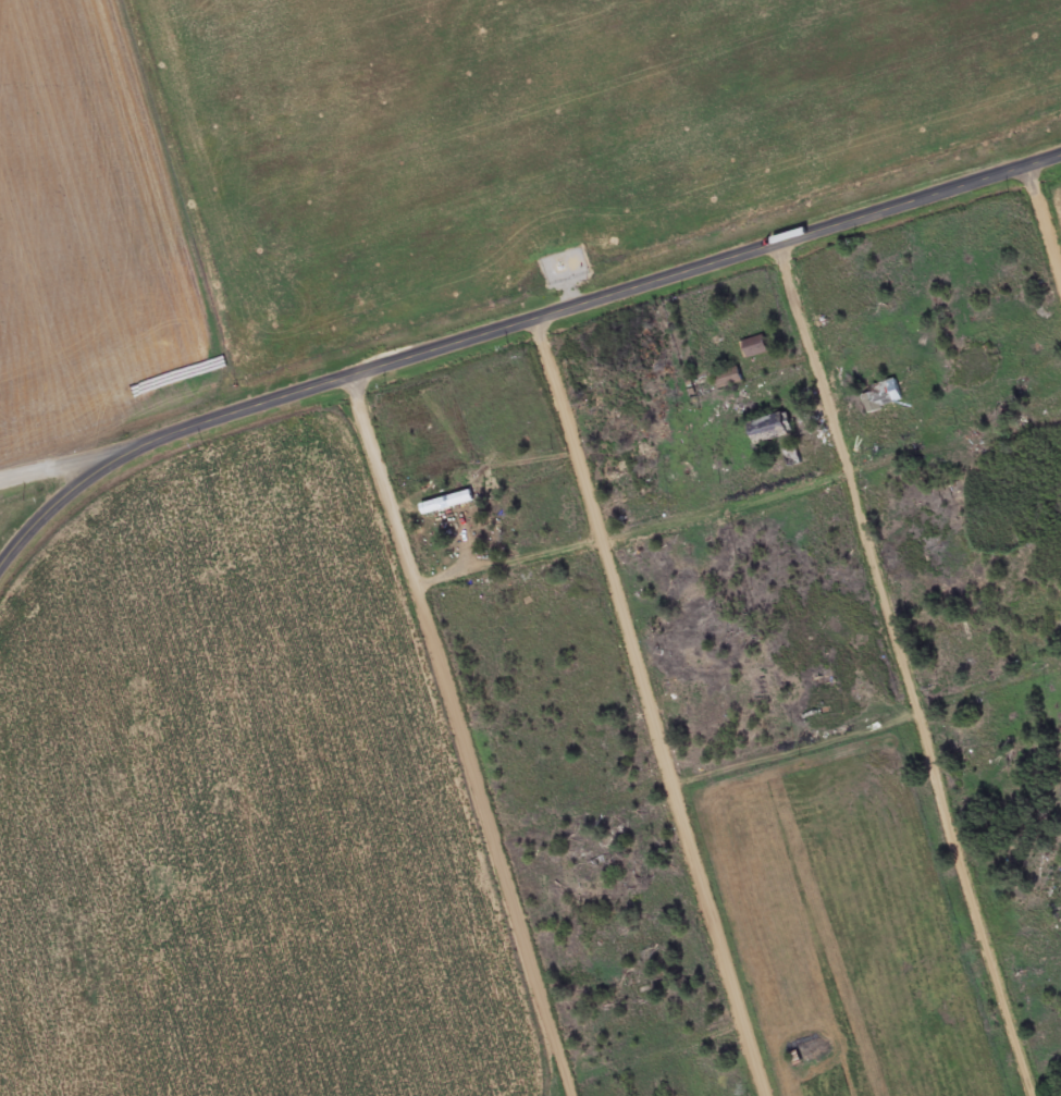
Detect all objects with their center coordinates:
road: (1046, 218)
road: (591, 306)
building: (754, 348)
building: (728, 380)
building: (883, 397)
building: (768, 430)
road: (61, 473)
road: (57, 509)
road: (739, 509)
building: (942, 555)
road: (909, 672)
road: (654, 710)
road: (459, 738)
road: (776, 754)
road: (1024, 931)
road: (654, 1043)

